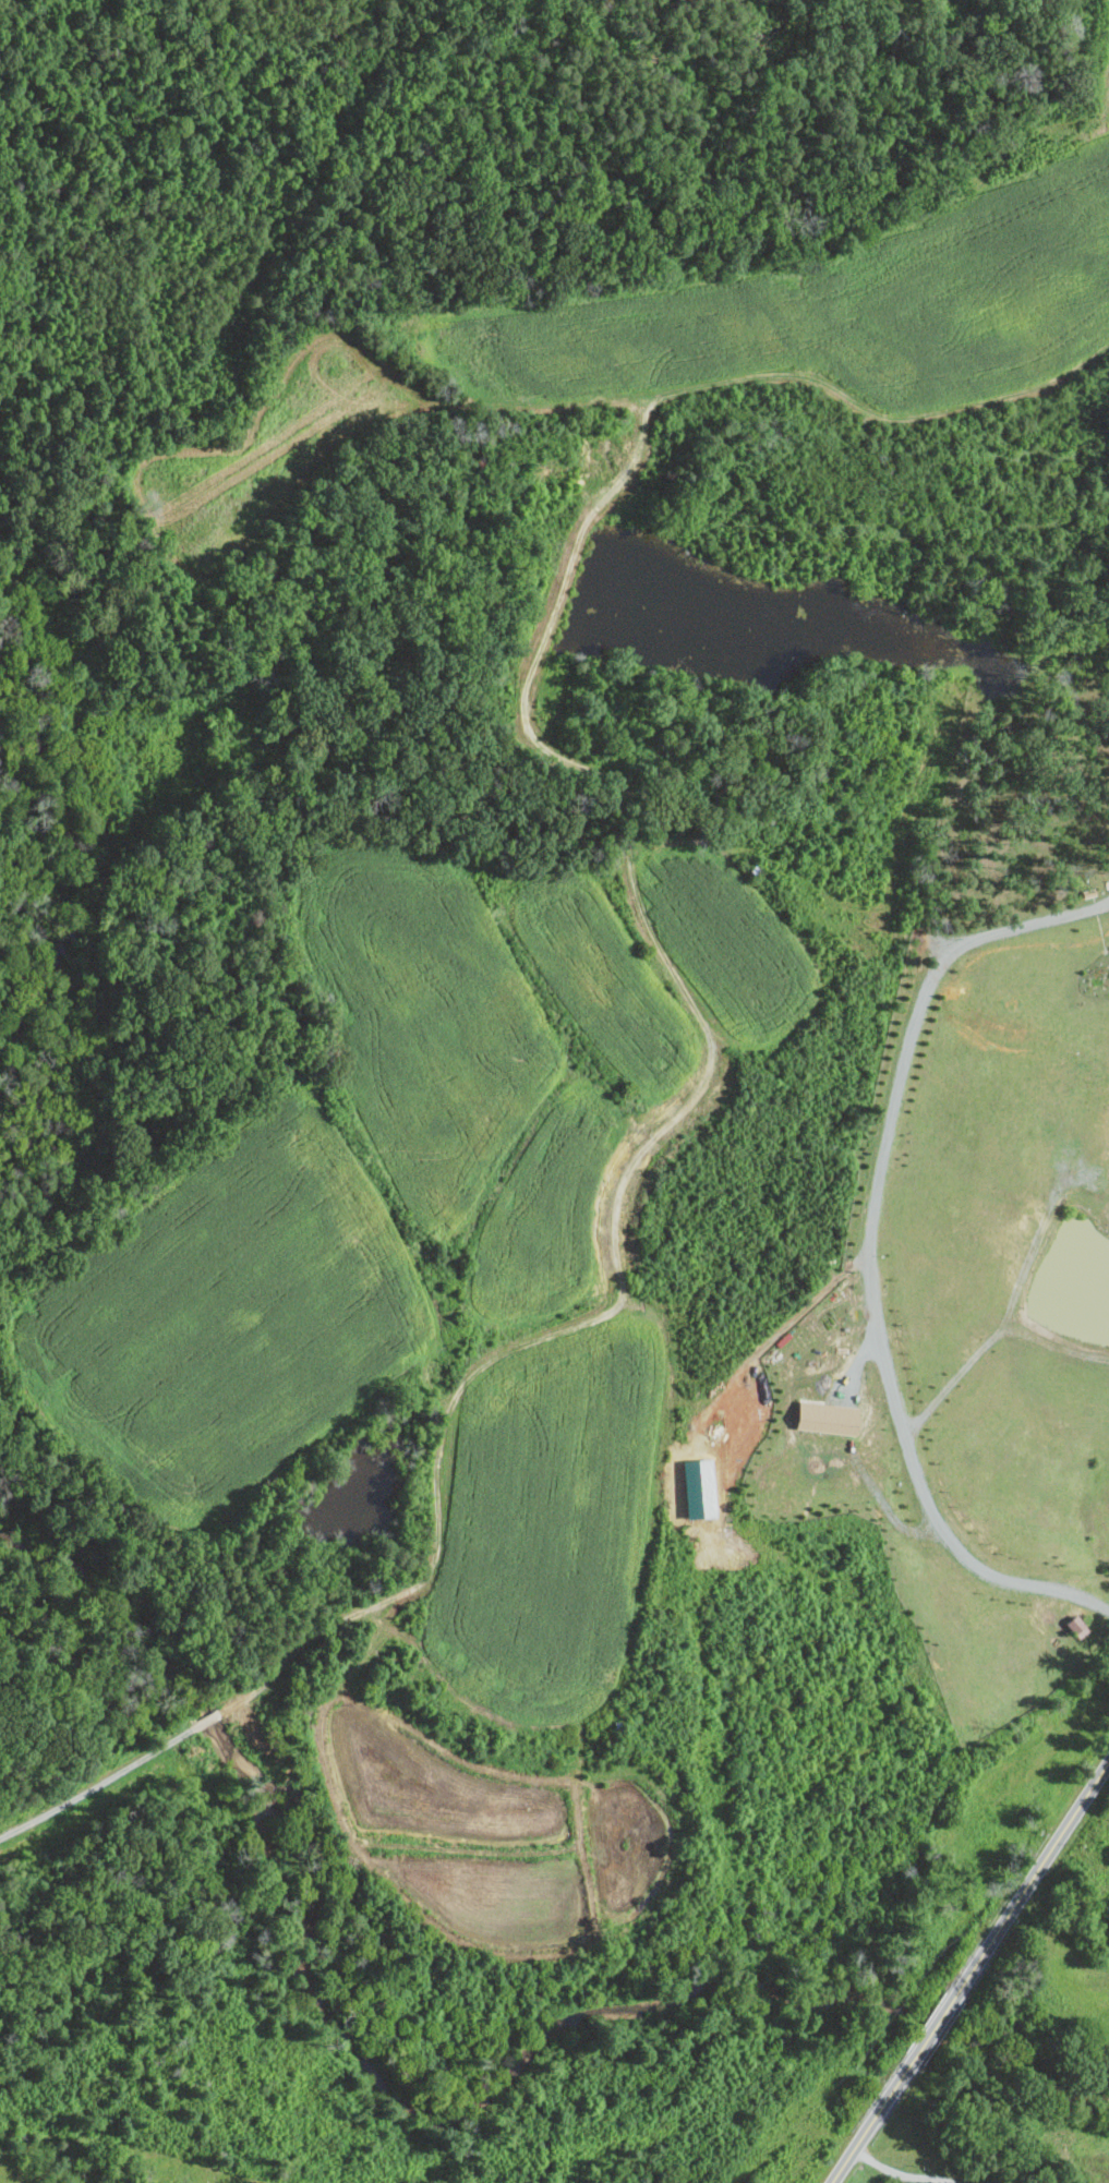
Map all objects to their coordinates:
road: (870, 1250)
building: (824, 1416)
building: (1075, 1626)
road: (1033, 1879)
road: (935, 2027)
road: (872, 2121)
road: (903, 2172)

